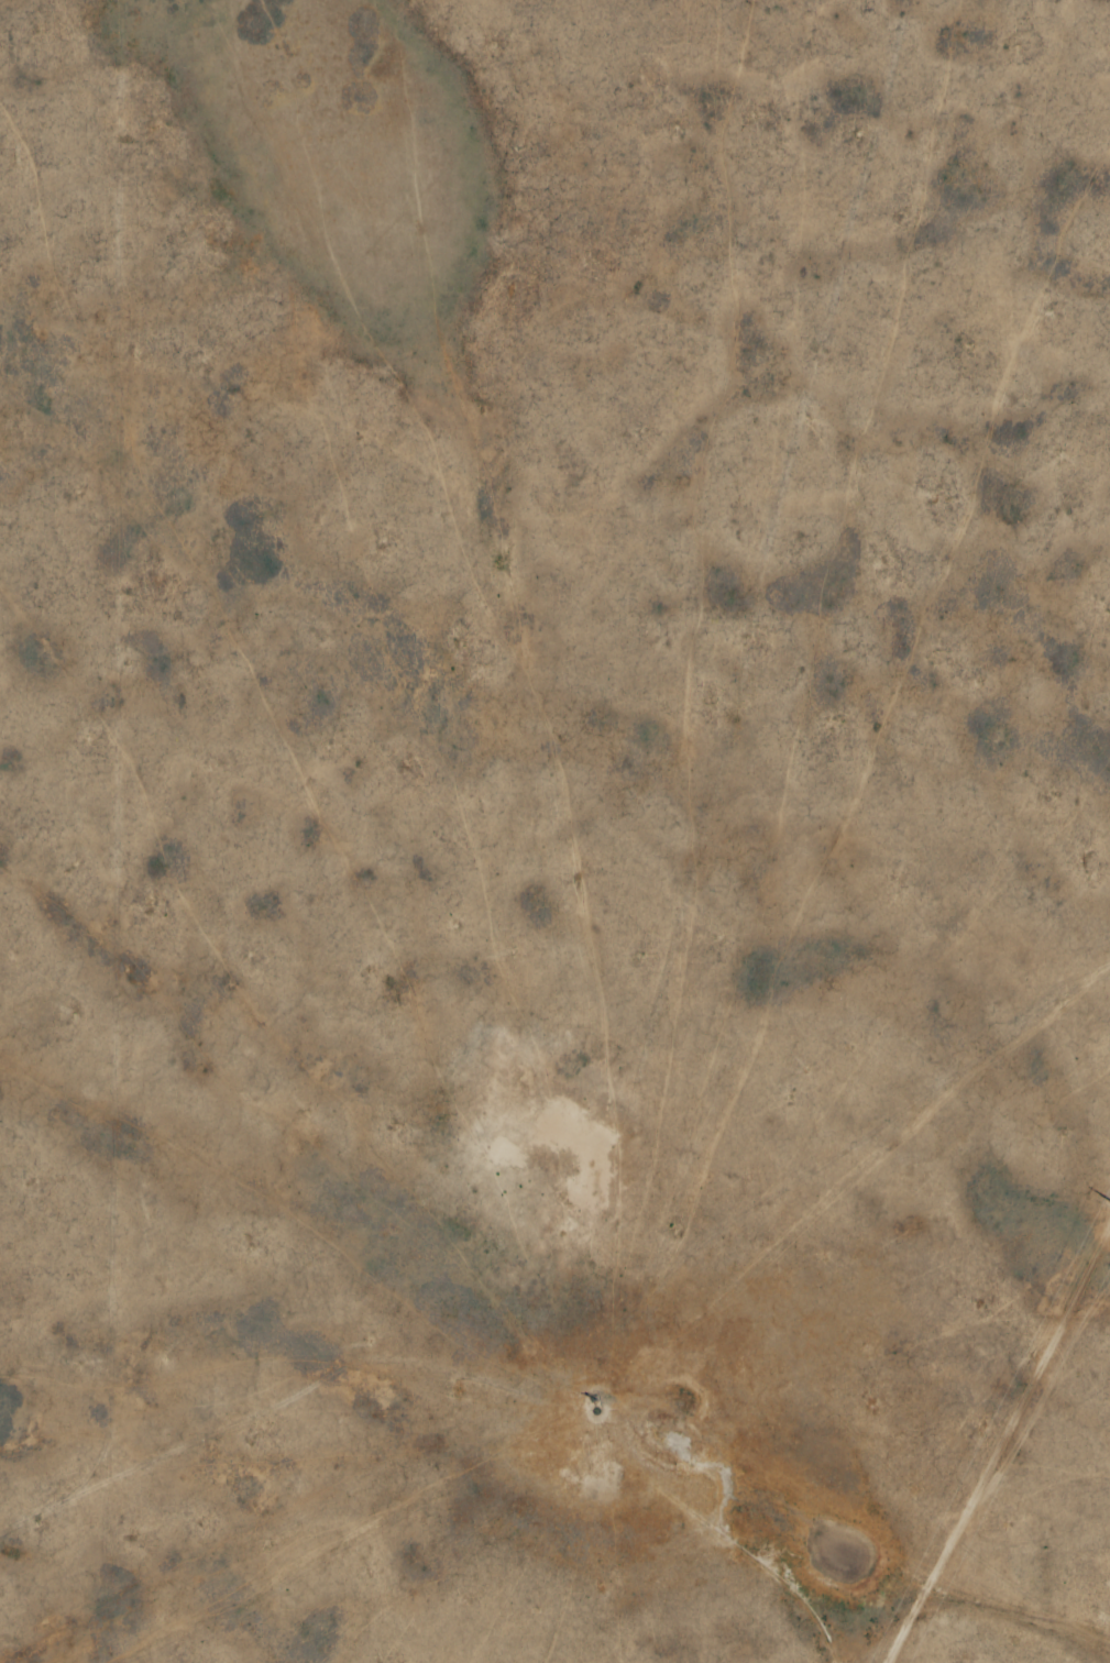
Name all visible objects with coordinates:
road: (119, 219)

